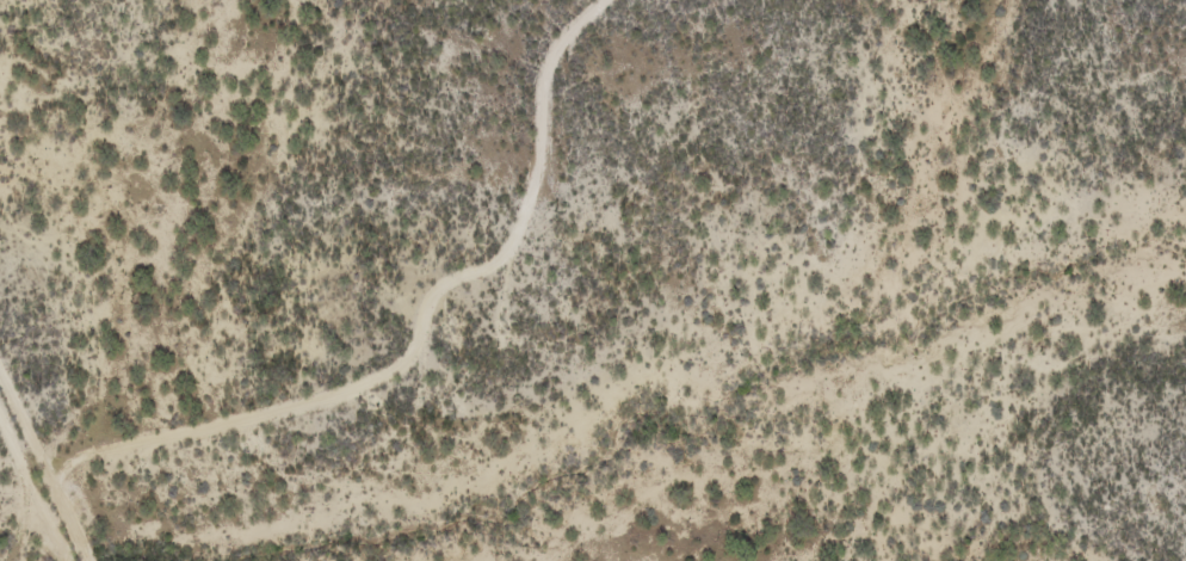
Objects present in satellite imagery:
road: (45, 463)

